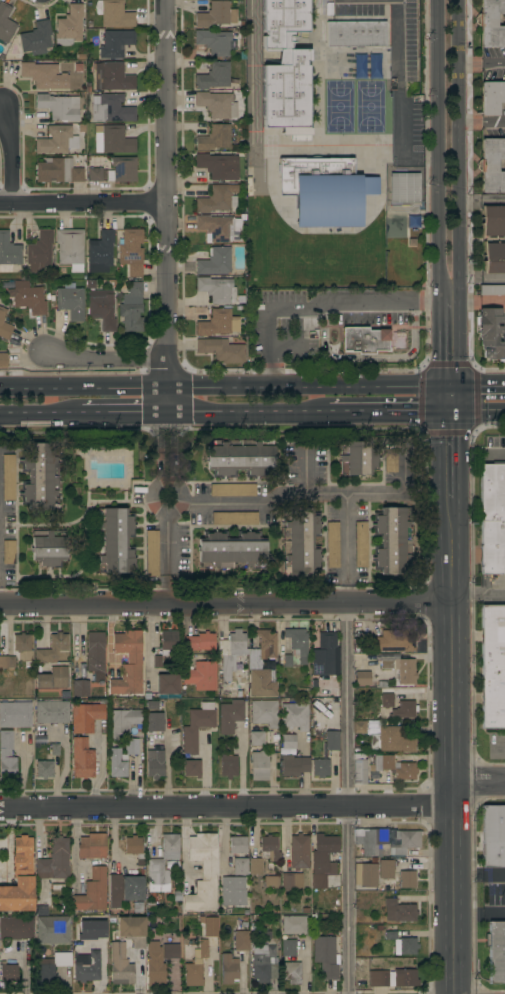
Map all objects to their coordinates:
building: (114, 14)
building: (216, 15)
building: (5, 23)
building: (491, 23)
building: (69, 26)
building: (355, 34)
building: (36, 37)
building: (218, 42)
building: (114, 43)
building: (201, 64)
road: (482, 66)
building: (285, 69)
building: (43, 76)
building: (214, 76)
building: (111, 77)
road: (397, 80)
building: (492, 97)
building: (216, 105)
building: (59, 107)
building: (111, 109)
road: (483, 123)
building: (214, 138)
building: (57, 140)
building: (113, 140)
road: (438, 148)
road: (13, 153)
building: (492, 165)
building: (217, 166)
building: (122, 170)
building: (57, 171)
building: (94, 175)
building: (404, 187)
building: (321, 191)
road: (460, 193)
building: (215, 200)
road: (482, 200)
road: (83, 203)
road: (167, 207)
building: (493, 221)
building: (215, 227)
building: (70, 249)
building: (131, 251)
building: (40, 252)
building: (100, 252)
building: (8, 253)
building: (494, 258)
building: (215, 262)
road: (482, 279)
building: (217, 290)
building: (492, 290)
building: (28, 298)
building: (71, 302)
road: (315, 303)
building: (132, 308)
building: (102, 309)
building: (218, 323)
building: (4, 325)
building: (491, 333)
building: (365, 340)
road: (439, 343)
building: (221, 350)
road: (105, 359)
building: (3, 360)
traffic signals: (454, 386)
road: (479, 386)
road: (227, 387)
road: (454, 399)
road: (392, 413)
traffic signals: (455, 413)
road: (480, 413)
road: (39, 414)
road: (249, 414)
road: (123, 415)
building: (240, 457)
building: (358, 458)
building: (390, 460)
road: (454, 466)
building: (8, 477)
building: (40, 477)
building: (232, 490)
building: (0, 493)
road: (242, 504)
building: (234, 518)
building: (492, 518)
building: (392, 540)
building: (114, 541)
building: (300, 541)
building: (332, 544)
building: (360, 544)
building: (48, 548)
building: (231, 550)
building: (9, 552)
building: (152, 553)
road: (479, 594)
road: (226, 603)
building: (200, 641)
building: (393, 641)
building: (21, 642)
building: (166, 646)
building: (294, 647)
building: (52, 648)
building: (263, 650)
building: (95, 651)
building: (231, 652)
building: (326, 656)
building: (7, 662)
building: (128, 663)
building: (493, 666)
building: (401, 669)
building: (201, 676)
building: (53, 678)
building: (362, 678)
building: (262, 683)
building: (167, 684)
building: (80, 688)
building: (386, 701)
building: (404, 710)
building: (51, 712)
building: (264, 712)
building: (15, 714)
building: (230, 716)
building: (86, 717)
building: (294, 717)
building: (122, 722)
building: (359, 727)
building: (196, 728)
building: (153, 730)
building: (257, 739)
building: (332, 740)
building: (391, 740)
building: (289, 742)
road: (348, 743)
building: (131, 745)
building: (7, 756)
road: (453, 757)
building: (82, 759)
building: (117, 763)
building: (155, 765)
building: (259, 765)
building: (294, 765)
building: (228, 766)
building: (321, 767)
building: (192, 768)
building: (380, 768)
building: (44, 769)
road: (255, 806)
road: (40, 832)
building: (493, 836)
building: (370, 842)
building: (405, 843)
building: (238, 845)
building: (91, 846)
building: (134, 846)
building: (269, 848)
building: (298, 852)
building: (23, 854)
building: (322, 858)
building: (54, 861)
building: (161, 863)
building: (255, 865)
building: (240, 866)
building: (386, 869)
building: (203, 872)
road: (479, 874)
building: (368, 875)
building: (407, 879)
building: (270, 882)
building: (291, 882)
building: (124, 889)
building: (233, 891)
building: (93, 892)
building: (40, 910)
building: (399, 911)
road: (479, 914)
building: (294, 925)
building: (210, 926)
building: (16, 928)
building: (52, 930)
building: (92, 930)
building: (132, 930)
building: (246, 939)
building: (402, 943)
building: (171, 948)
building: (289, 948)
building: (496, 951)
building: (326, 957)
building: (154, 961)
building: (196, 961)
road: (103, 962)
building: (265, 963)
building: (120, 965)
building: (87, 967)
building: (50, 968)
building: (229, 969)
building: (8, 972)
building: (291, 972)
building: (393, 978)

